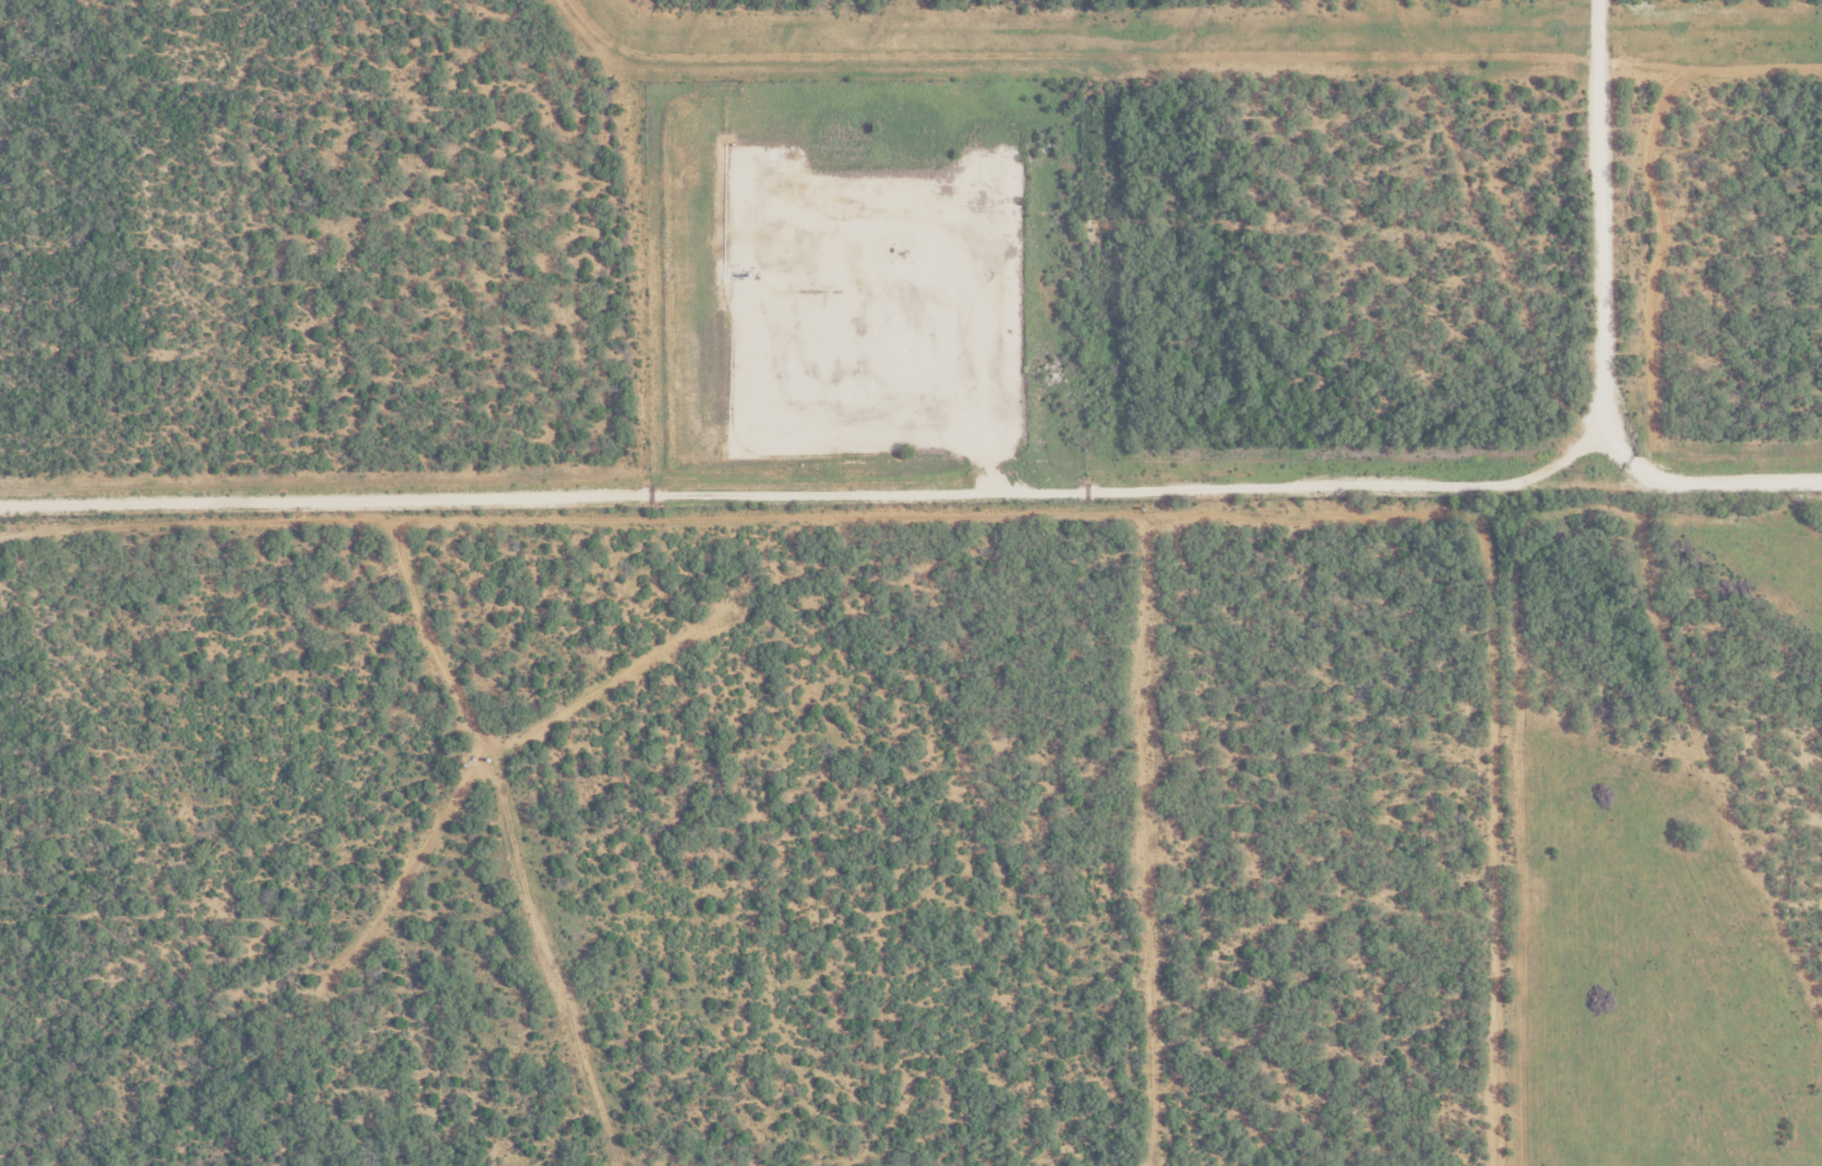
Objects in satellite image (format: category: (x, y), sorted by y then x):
road: (1599, 218)
road: (810, 503)

